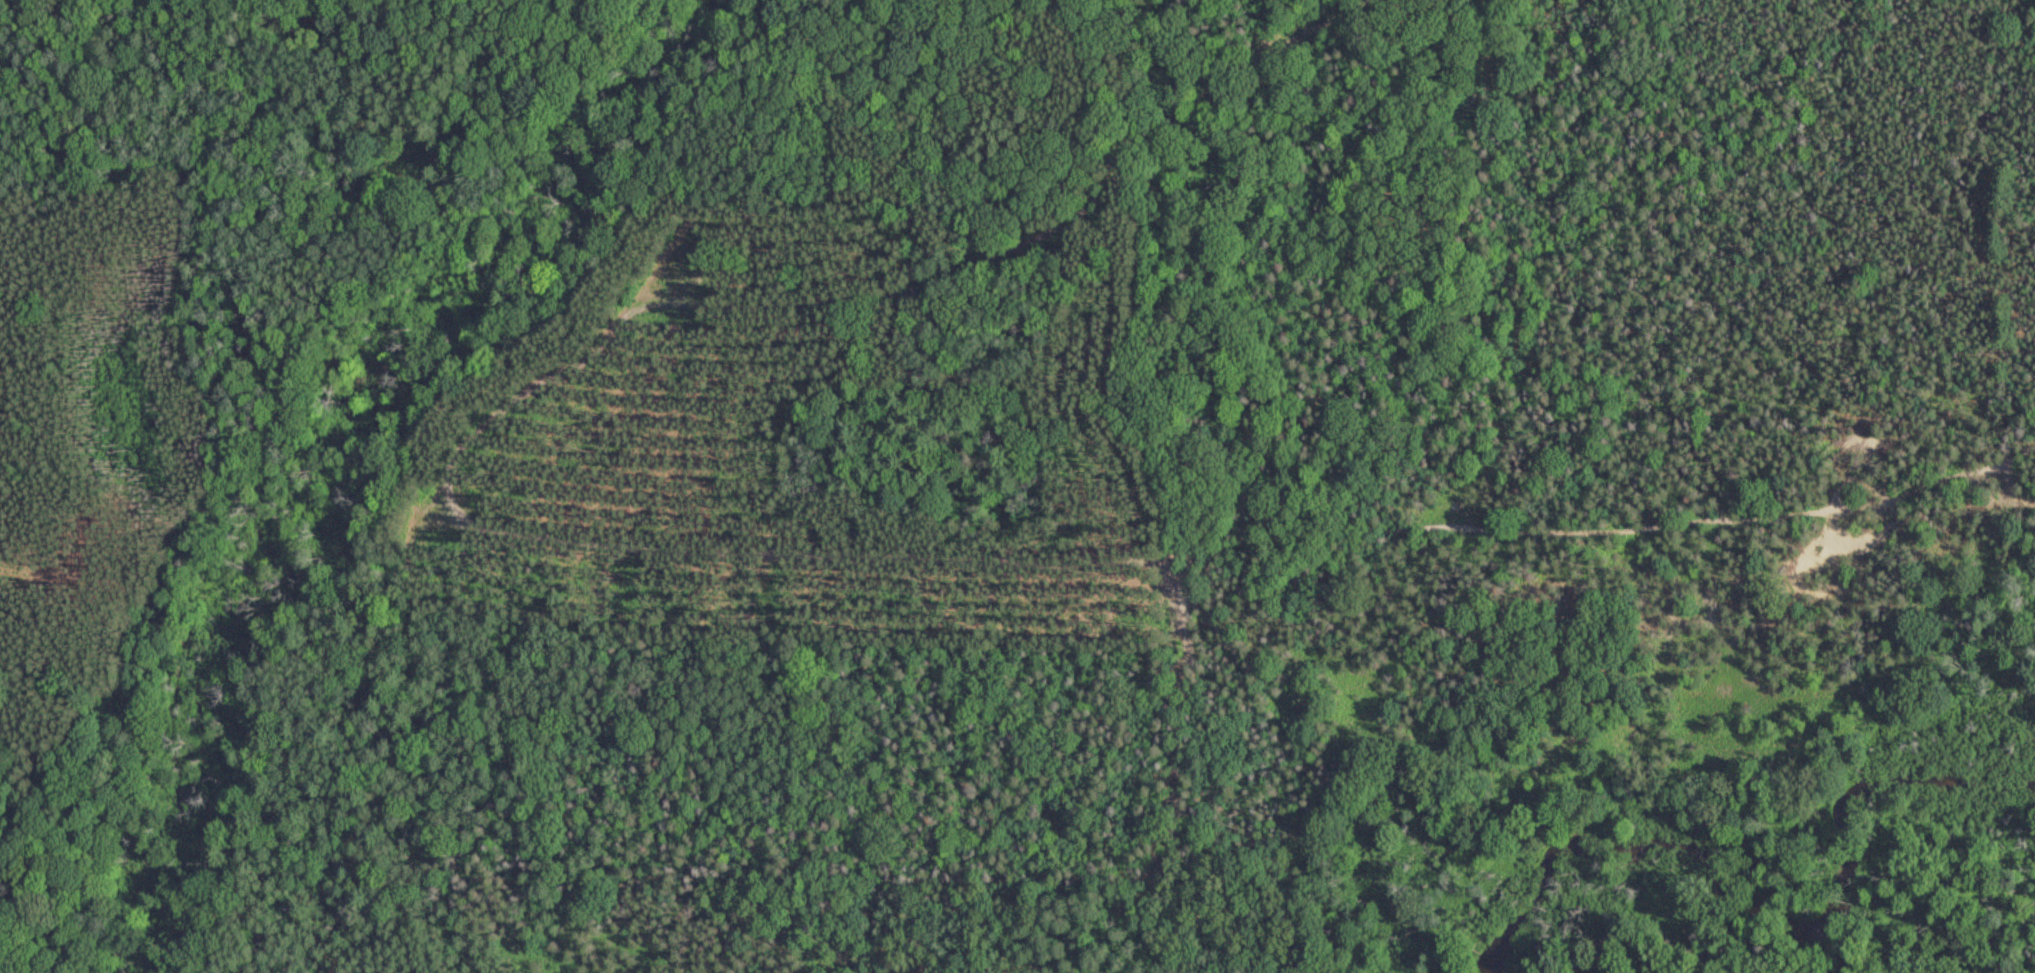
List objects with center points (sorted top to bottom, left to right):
road: (1918, 907)

